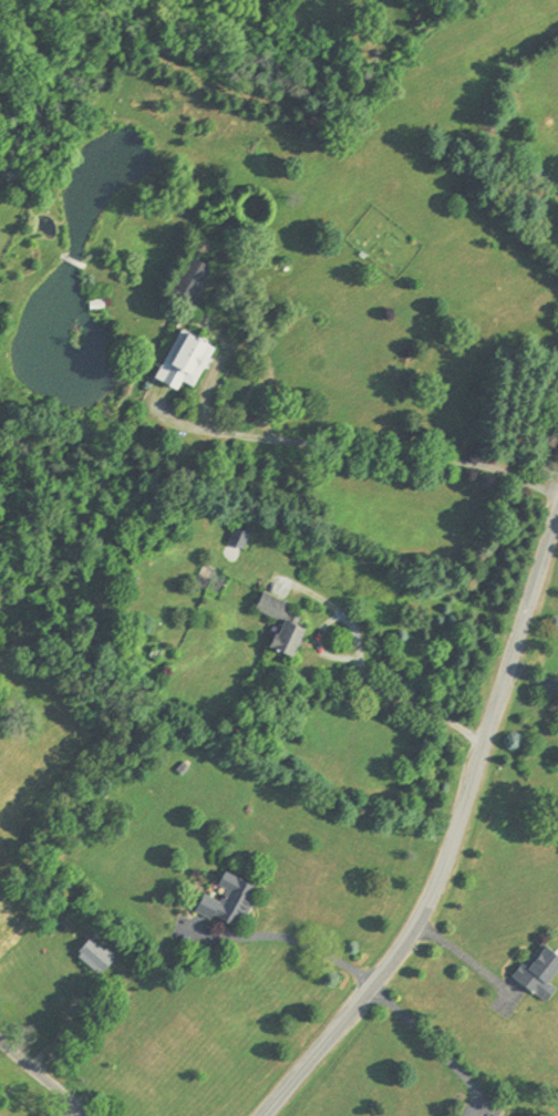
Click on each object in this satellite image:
dam: (74, 261)
building: (201, 287)
building: (96, 303)
building: (185, 361)
road: (384, 454)
building: (289, 623)
road: (364, 670)
road: (456, 839)
building: (228, 900)
road: (297, 941)
building: (97, 954)
road: (469, 960)
building: (538, 971)
road: (56, 1038)
road: (426, 1038)
road: (43, 1077)
road: (70, 1110)

